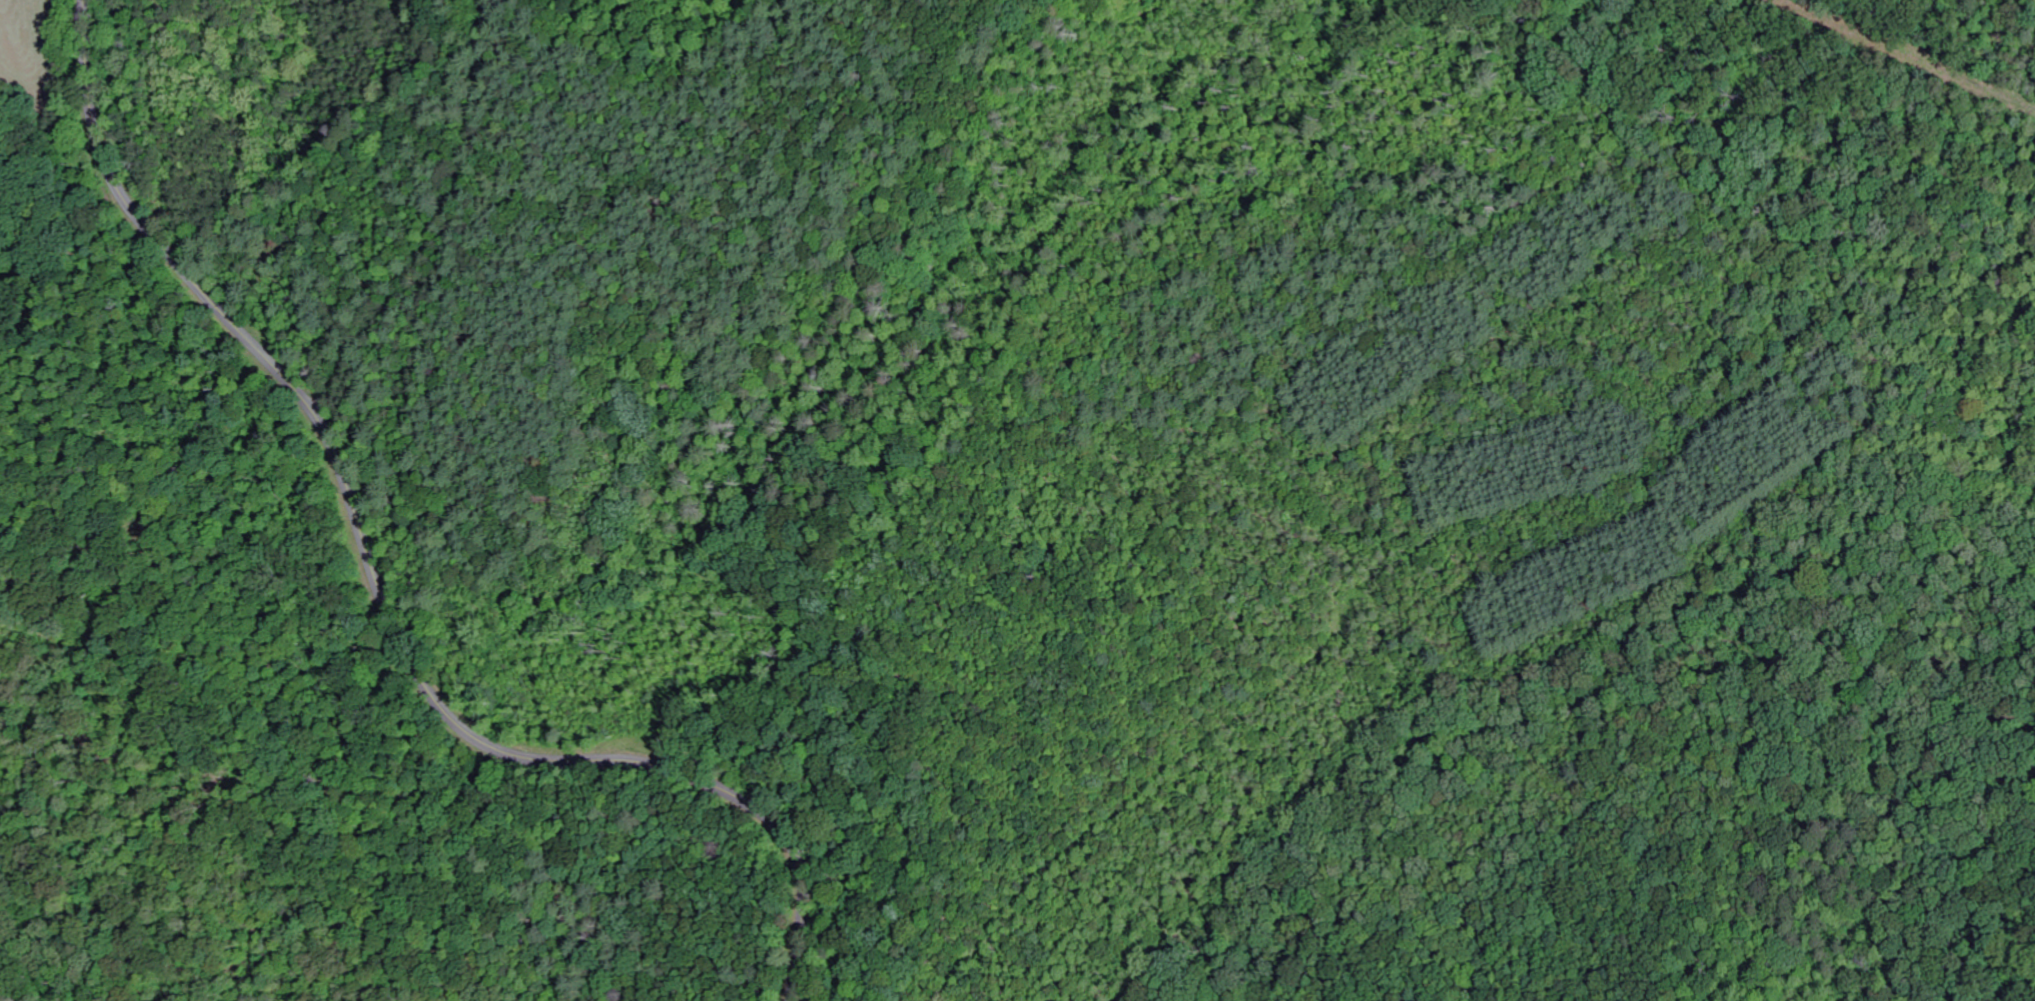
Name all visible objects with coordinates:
road: (829, 440)
road: (382, 591)
road: (1555, 723)

